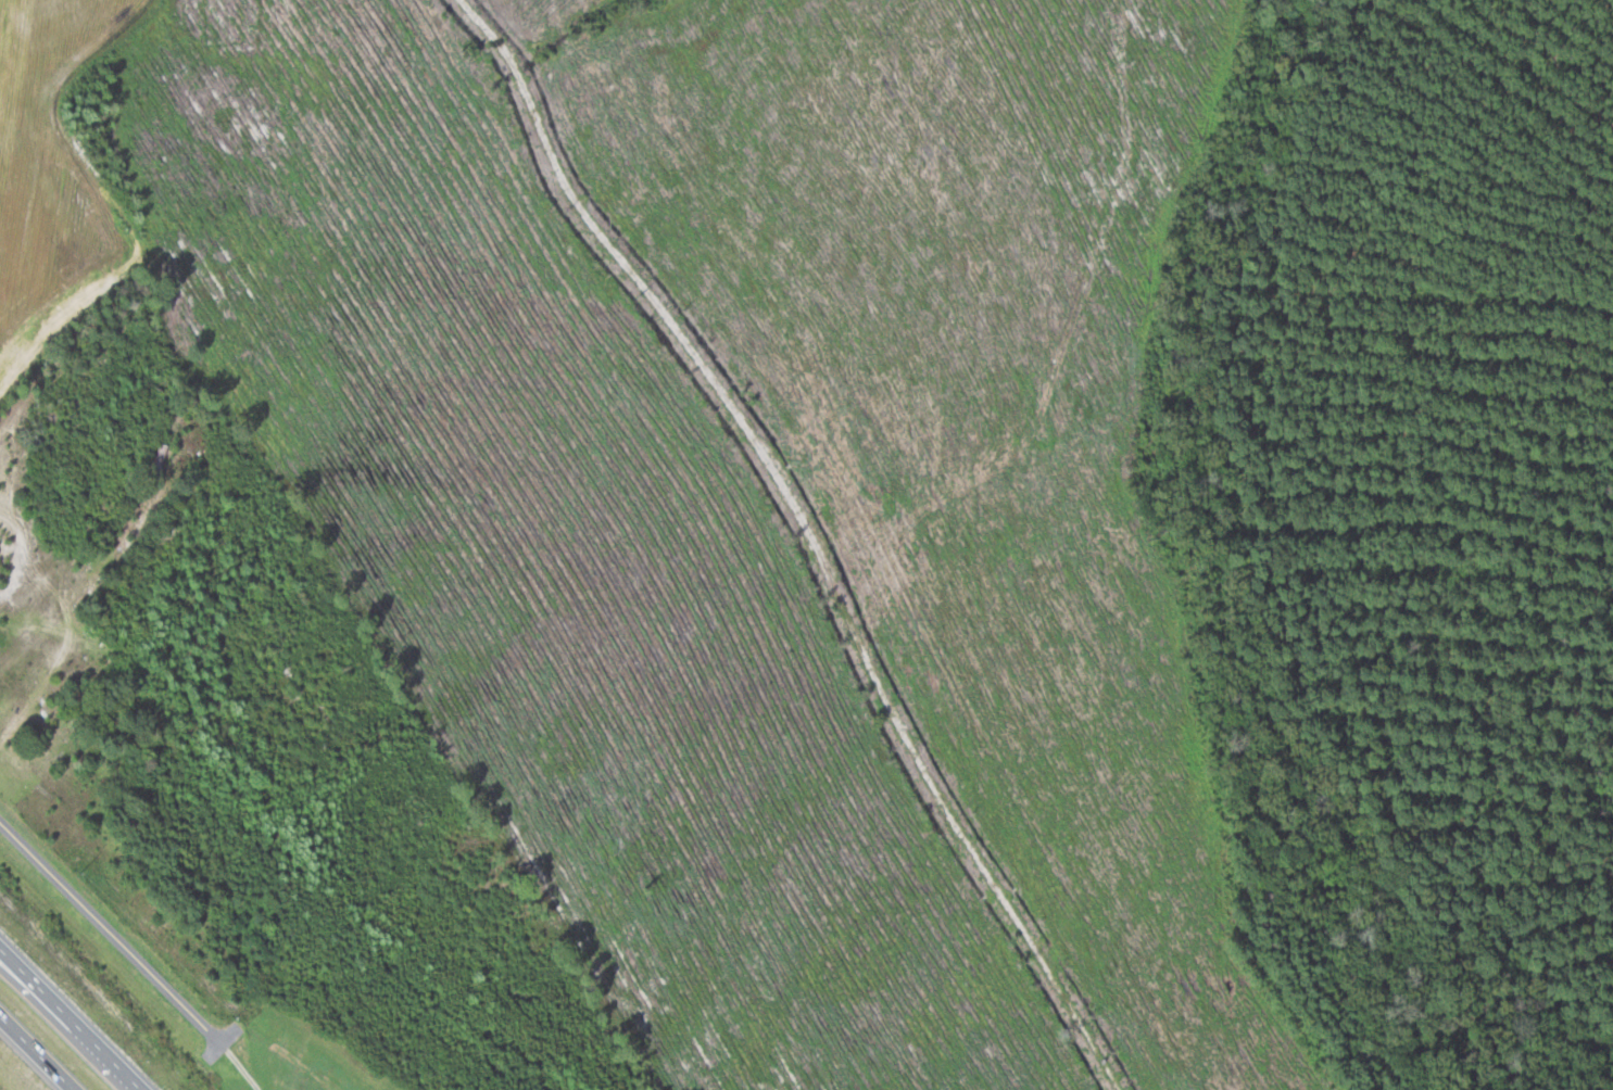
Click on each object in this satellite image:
road: (110, 929)
road: (14, 968)
road: (70, 1019)
road: (35, 1054)

